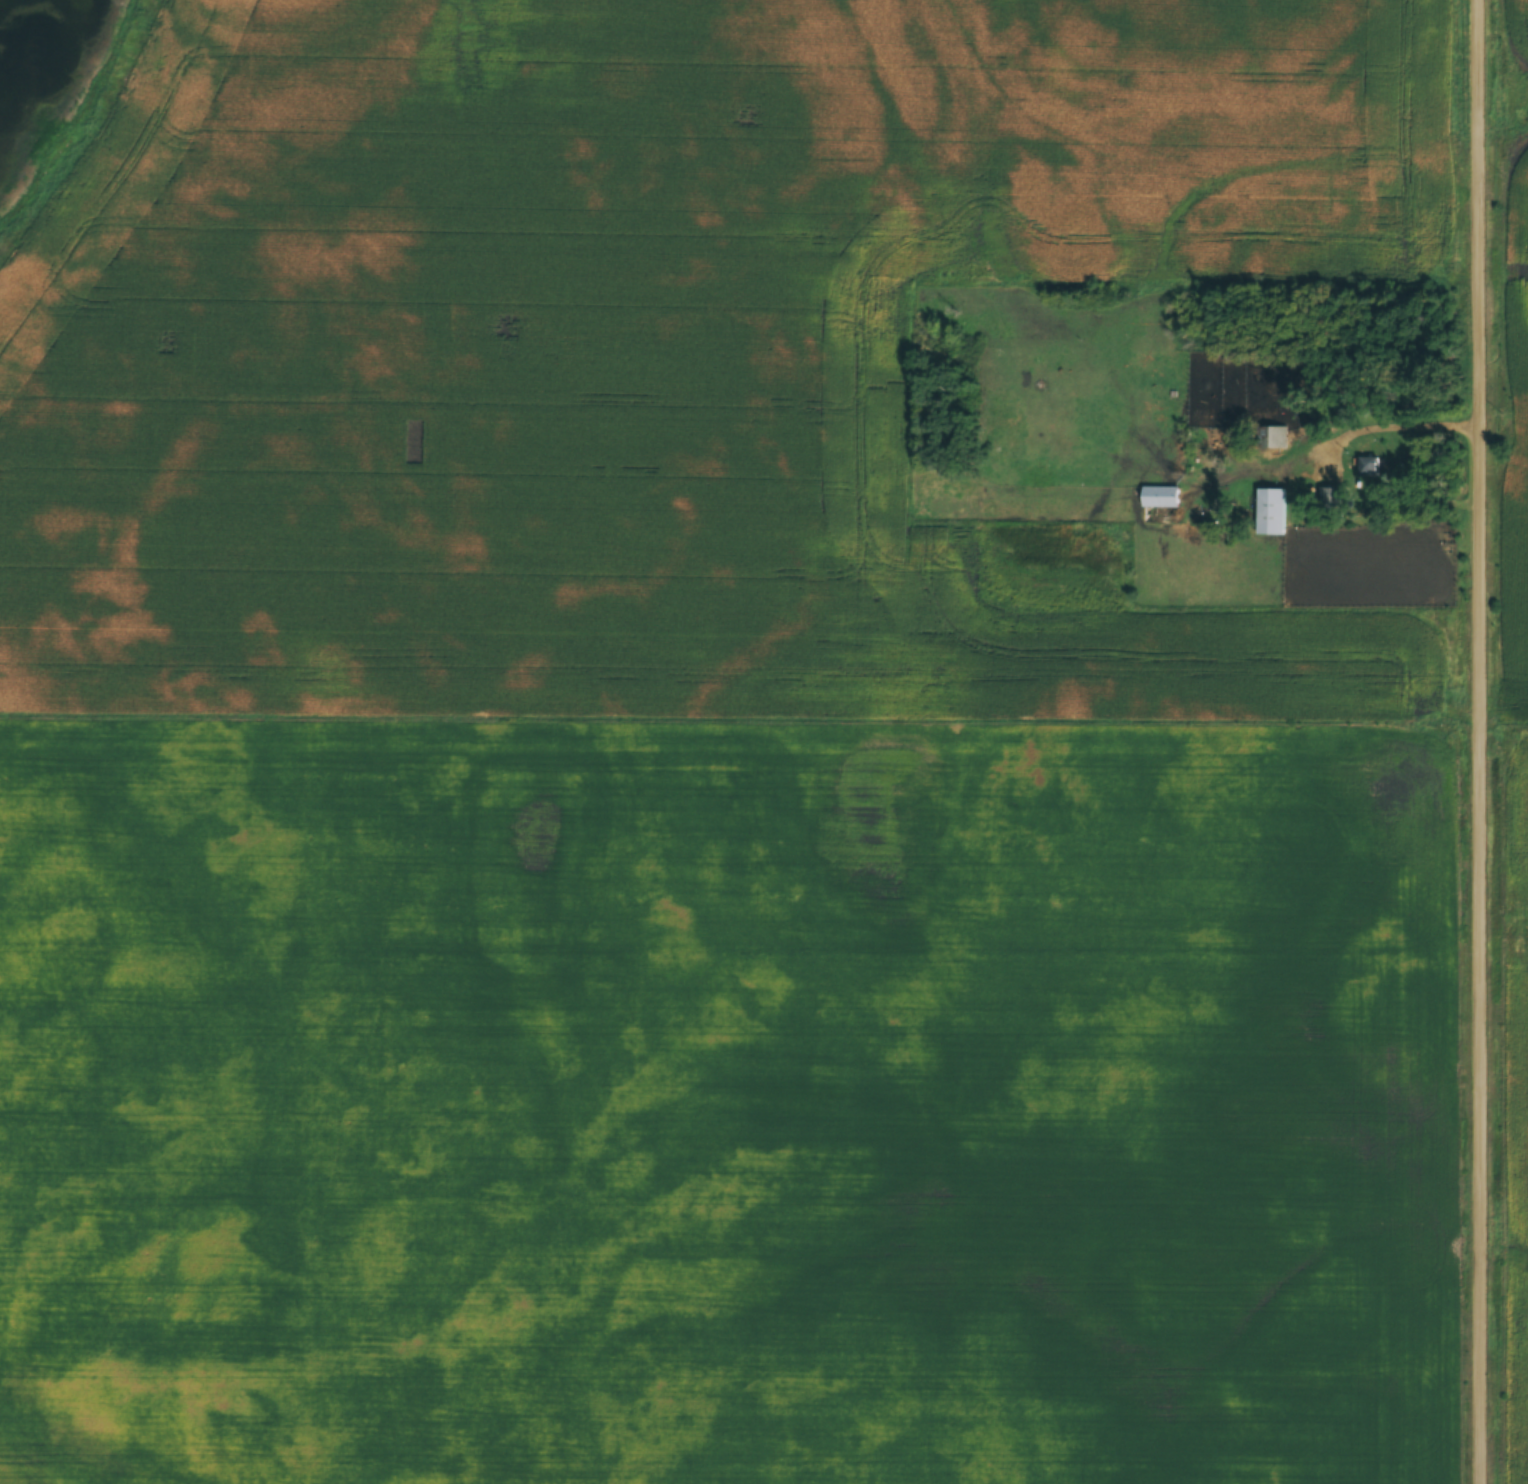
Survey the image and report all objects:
building: (1273, 436)
building: (1371, 494)
building: (1162, 496)
building: (1272, 511)
road: (1480, 741)

